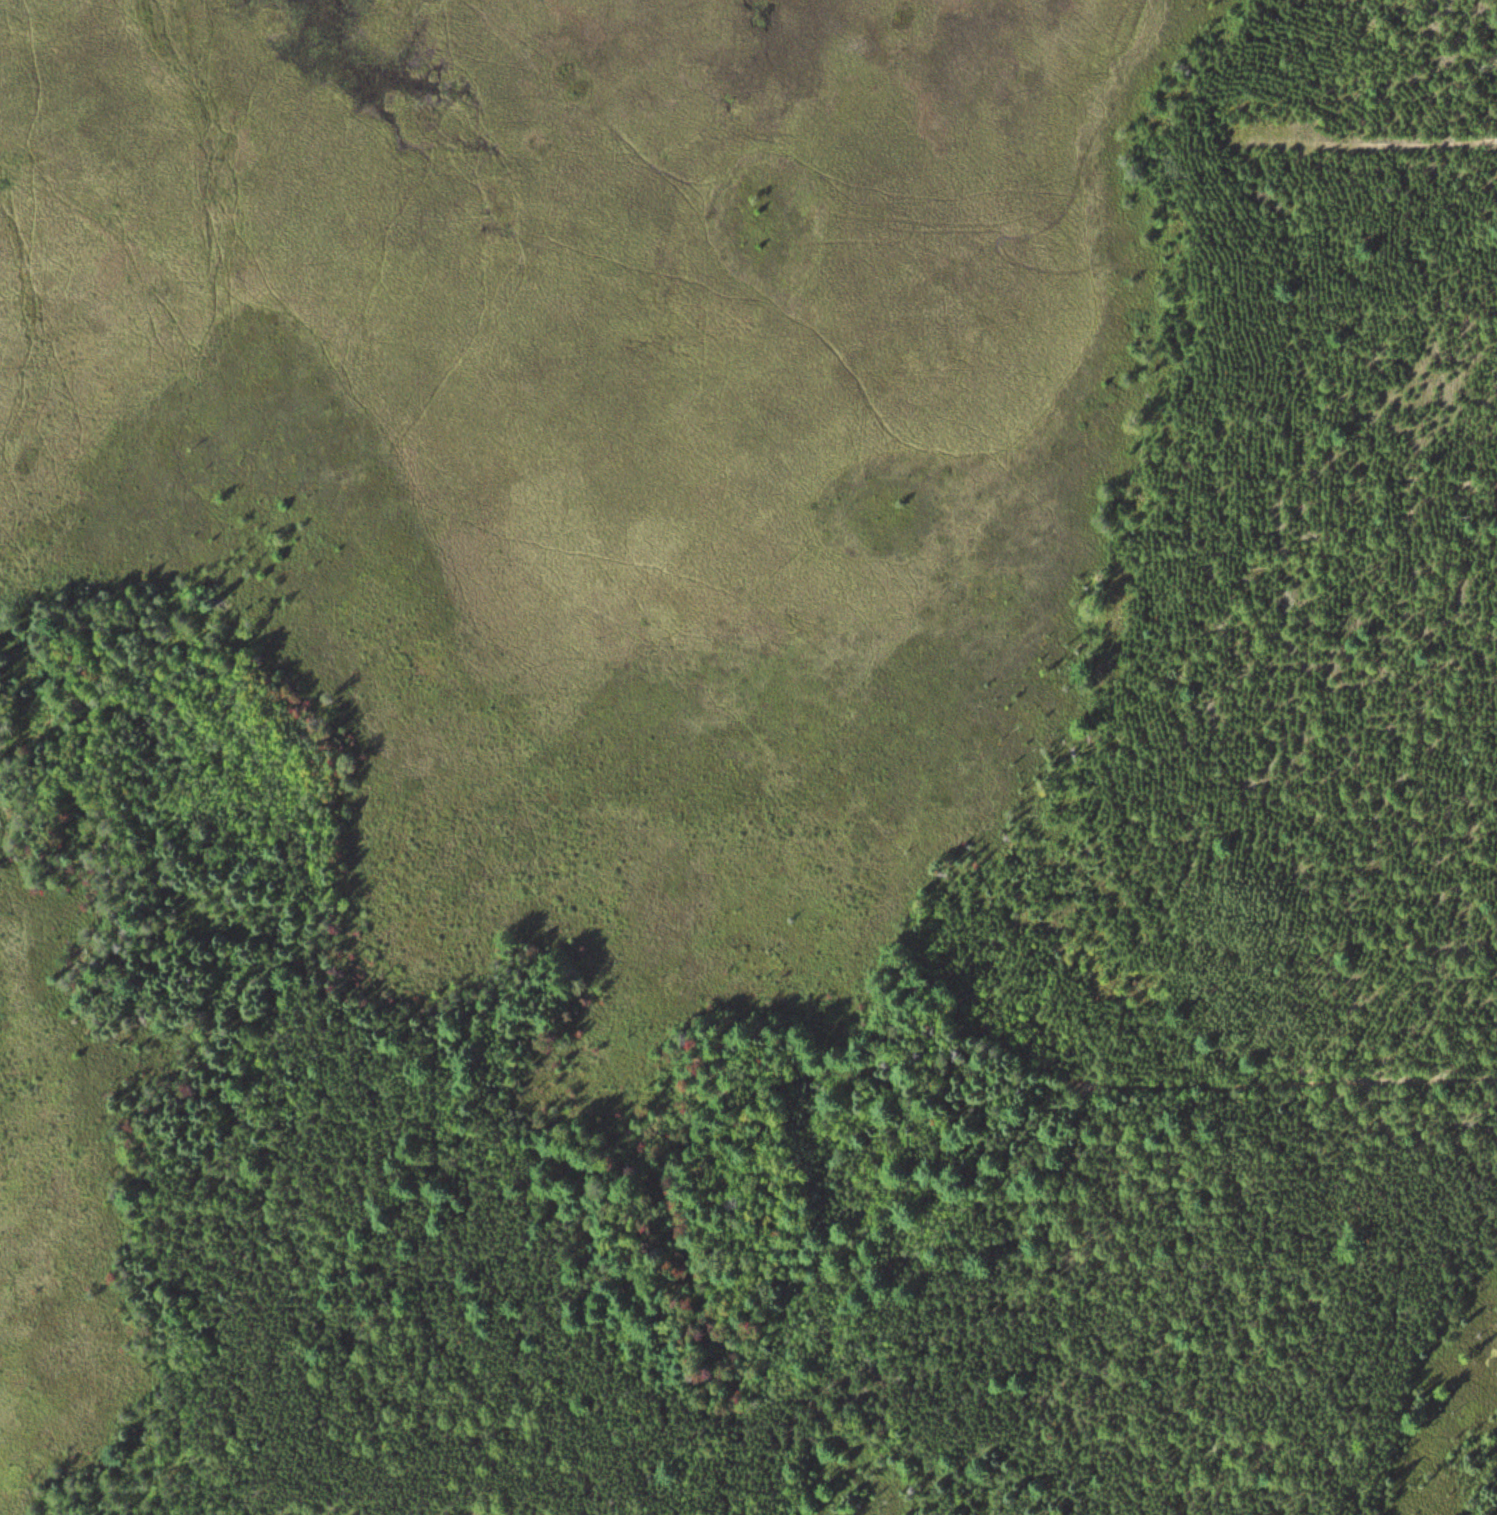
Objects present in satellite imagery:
road: (1370, 140)
road: (1283, 1088)

